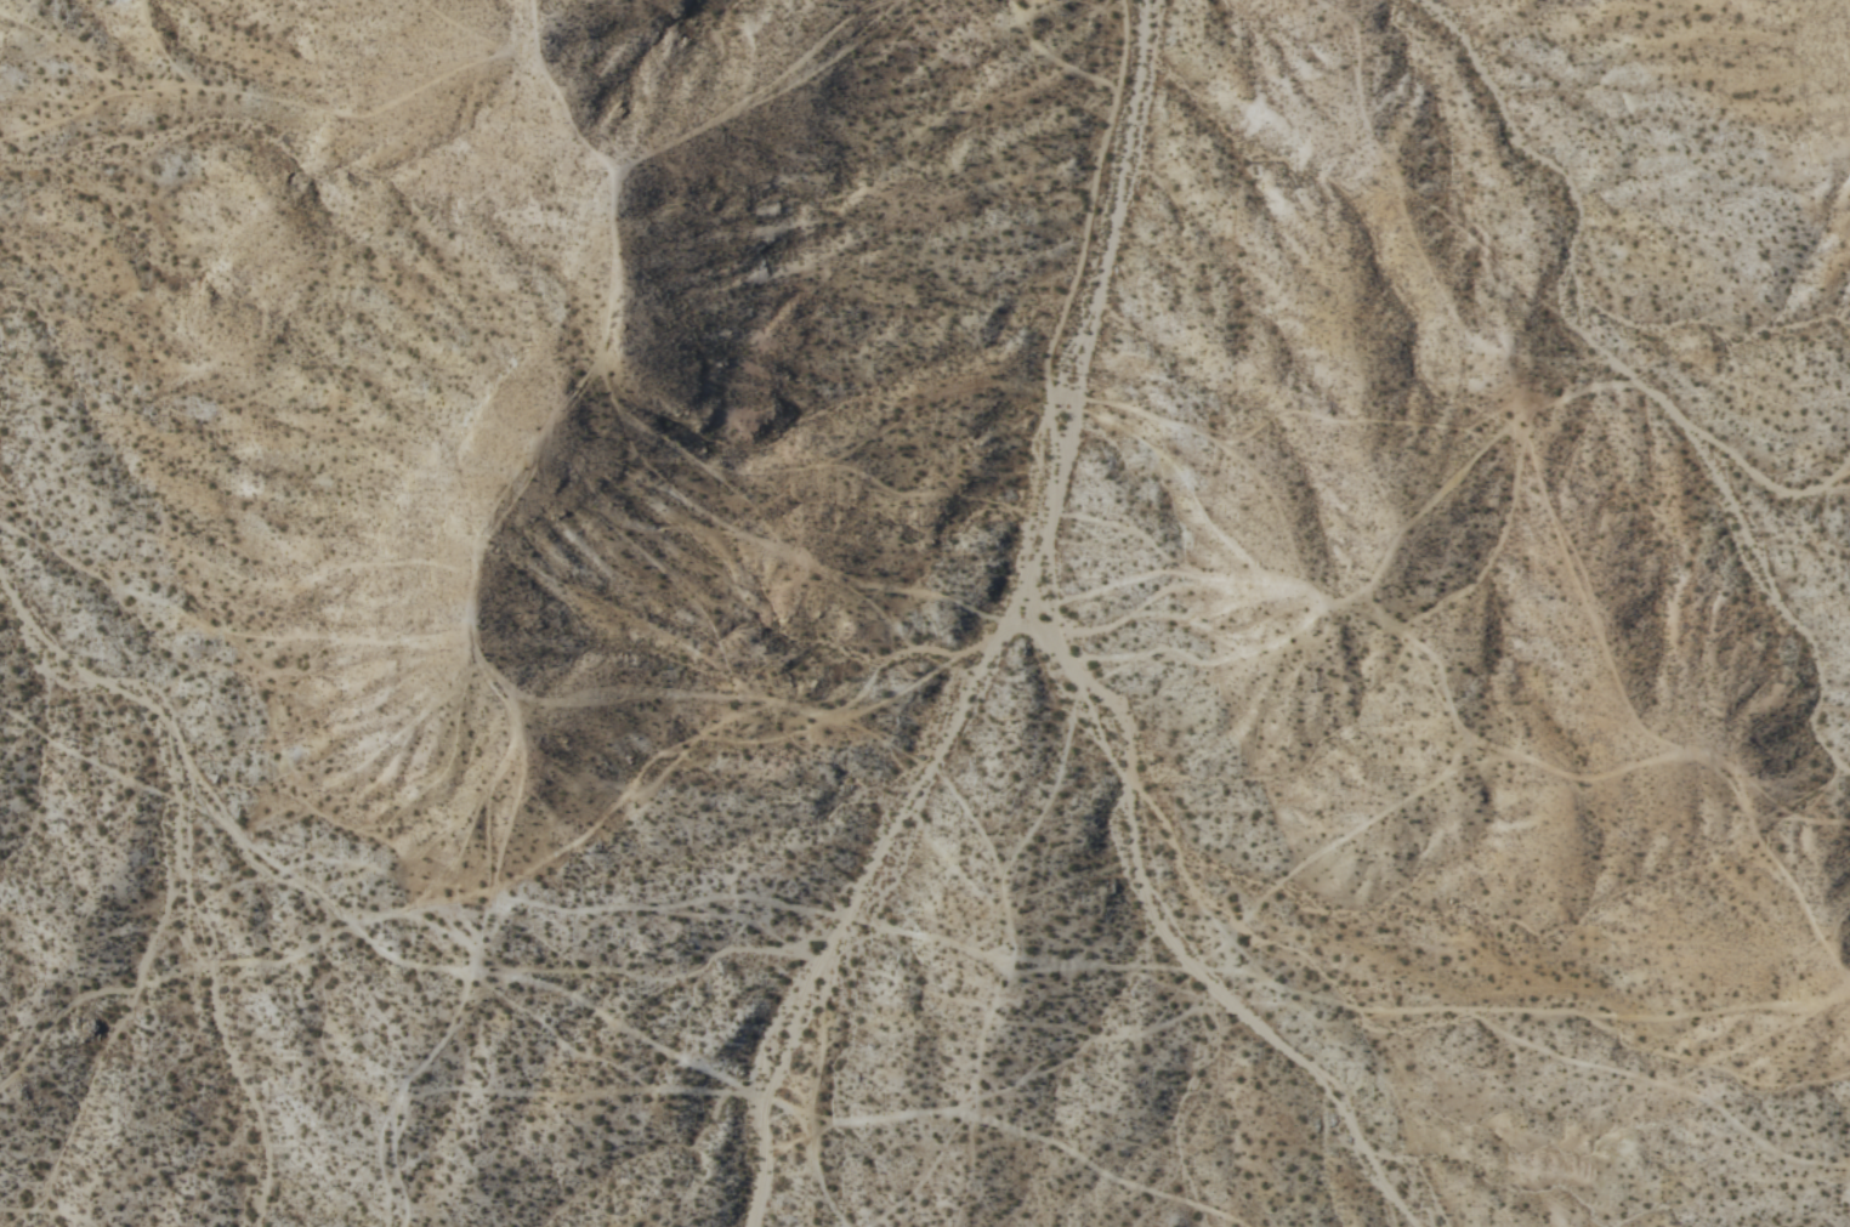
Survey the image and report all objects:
crop: (925, 935)

